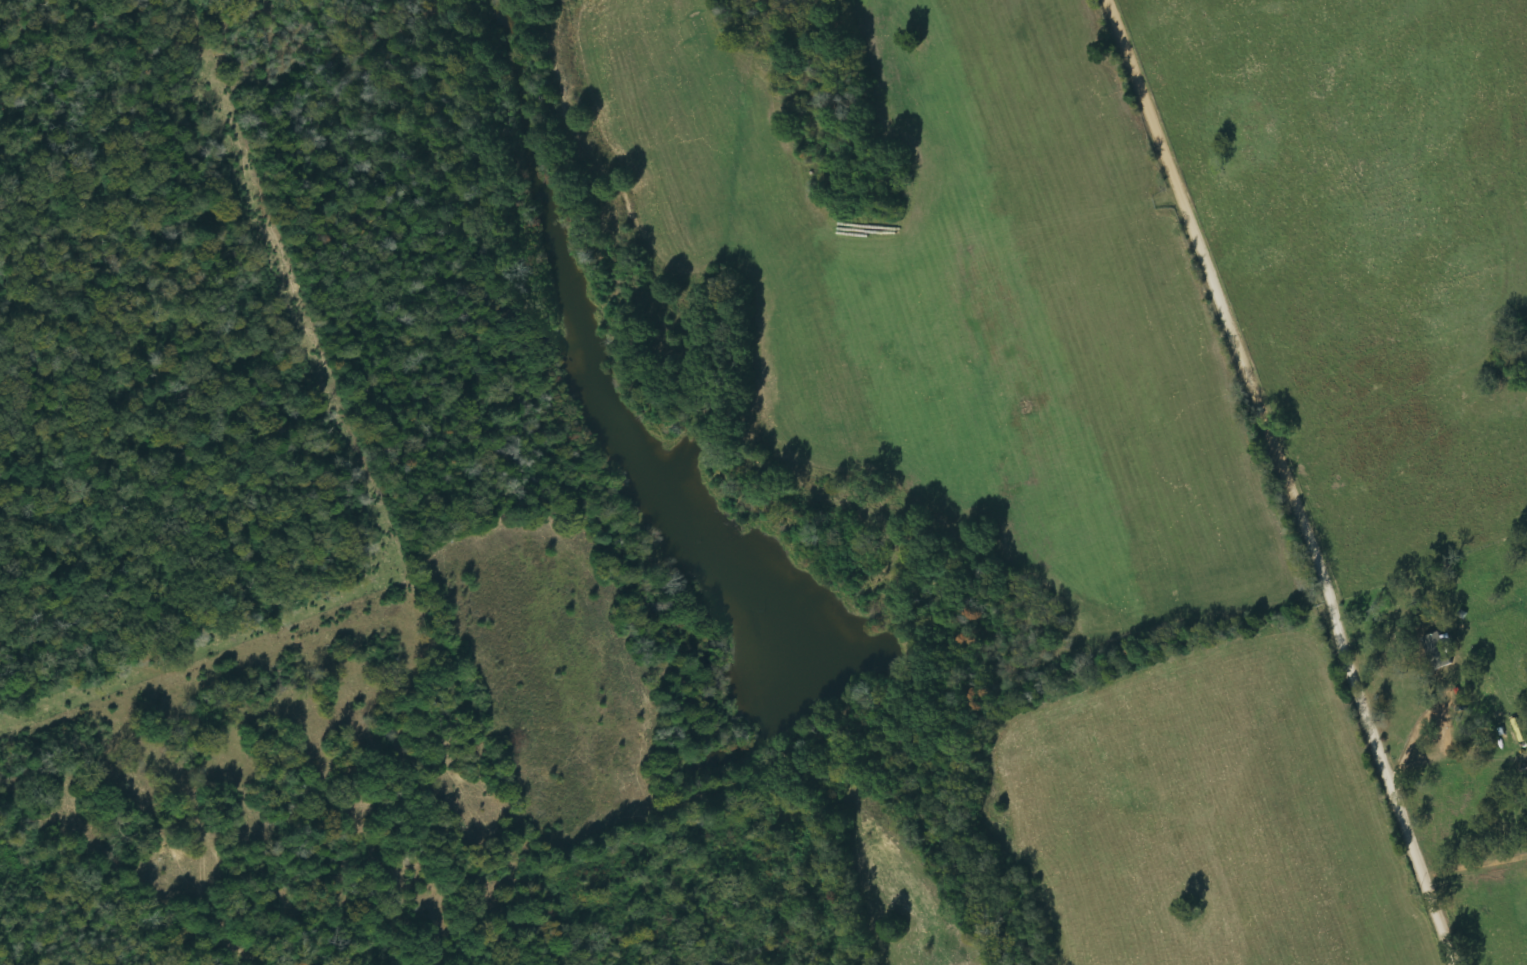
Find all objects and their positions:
road: (1274, 484)
building: (1437, 650)

